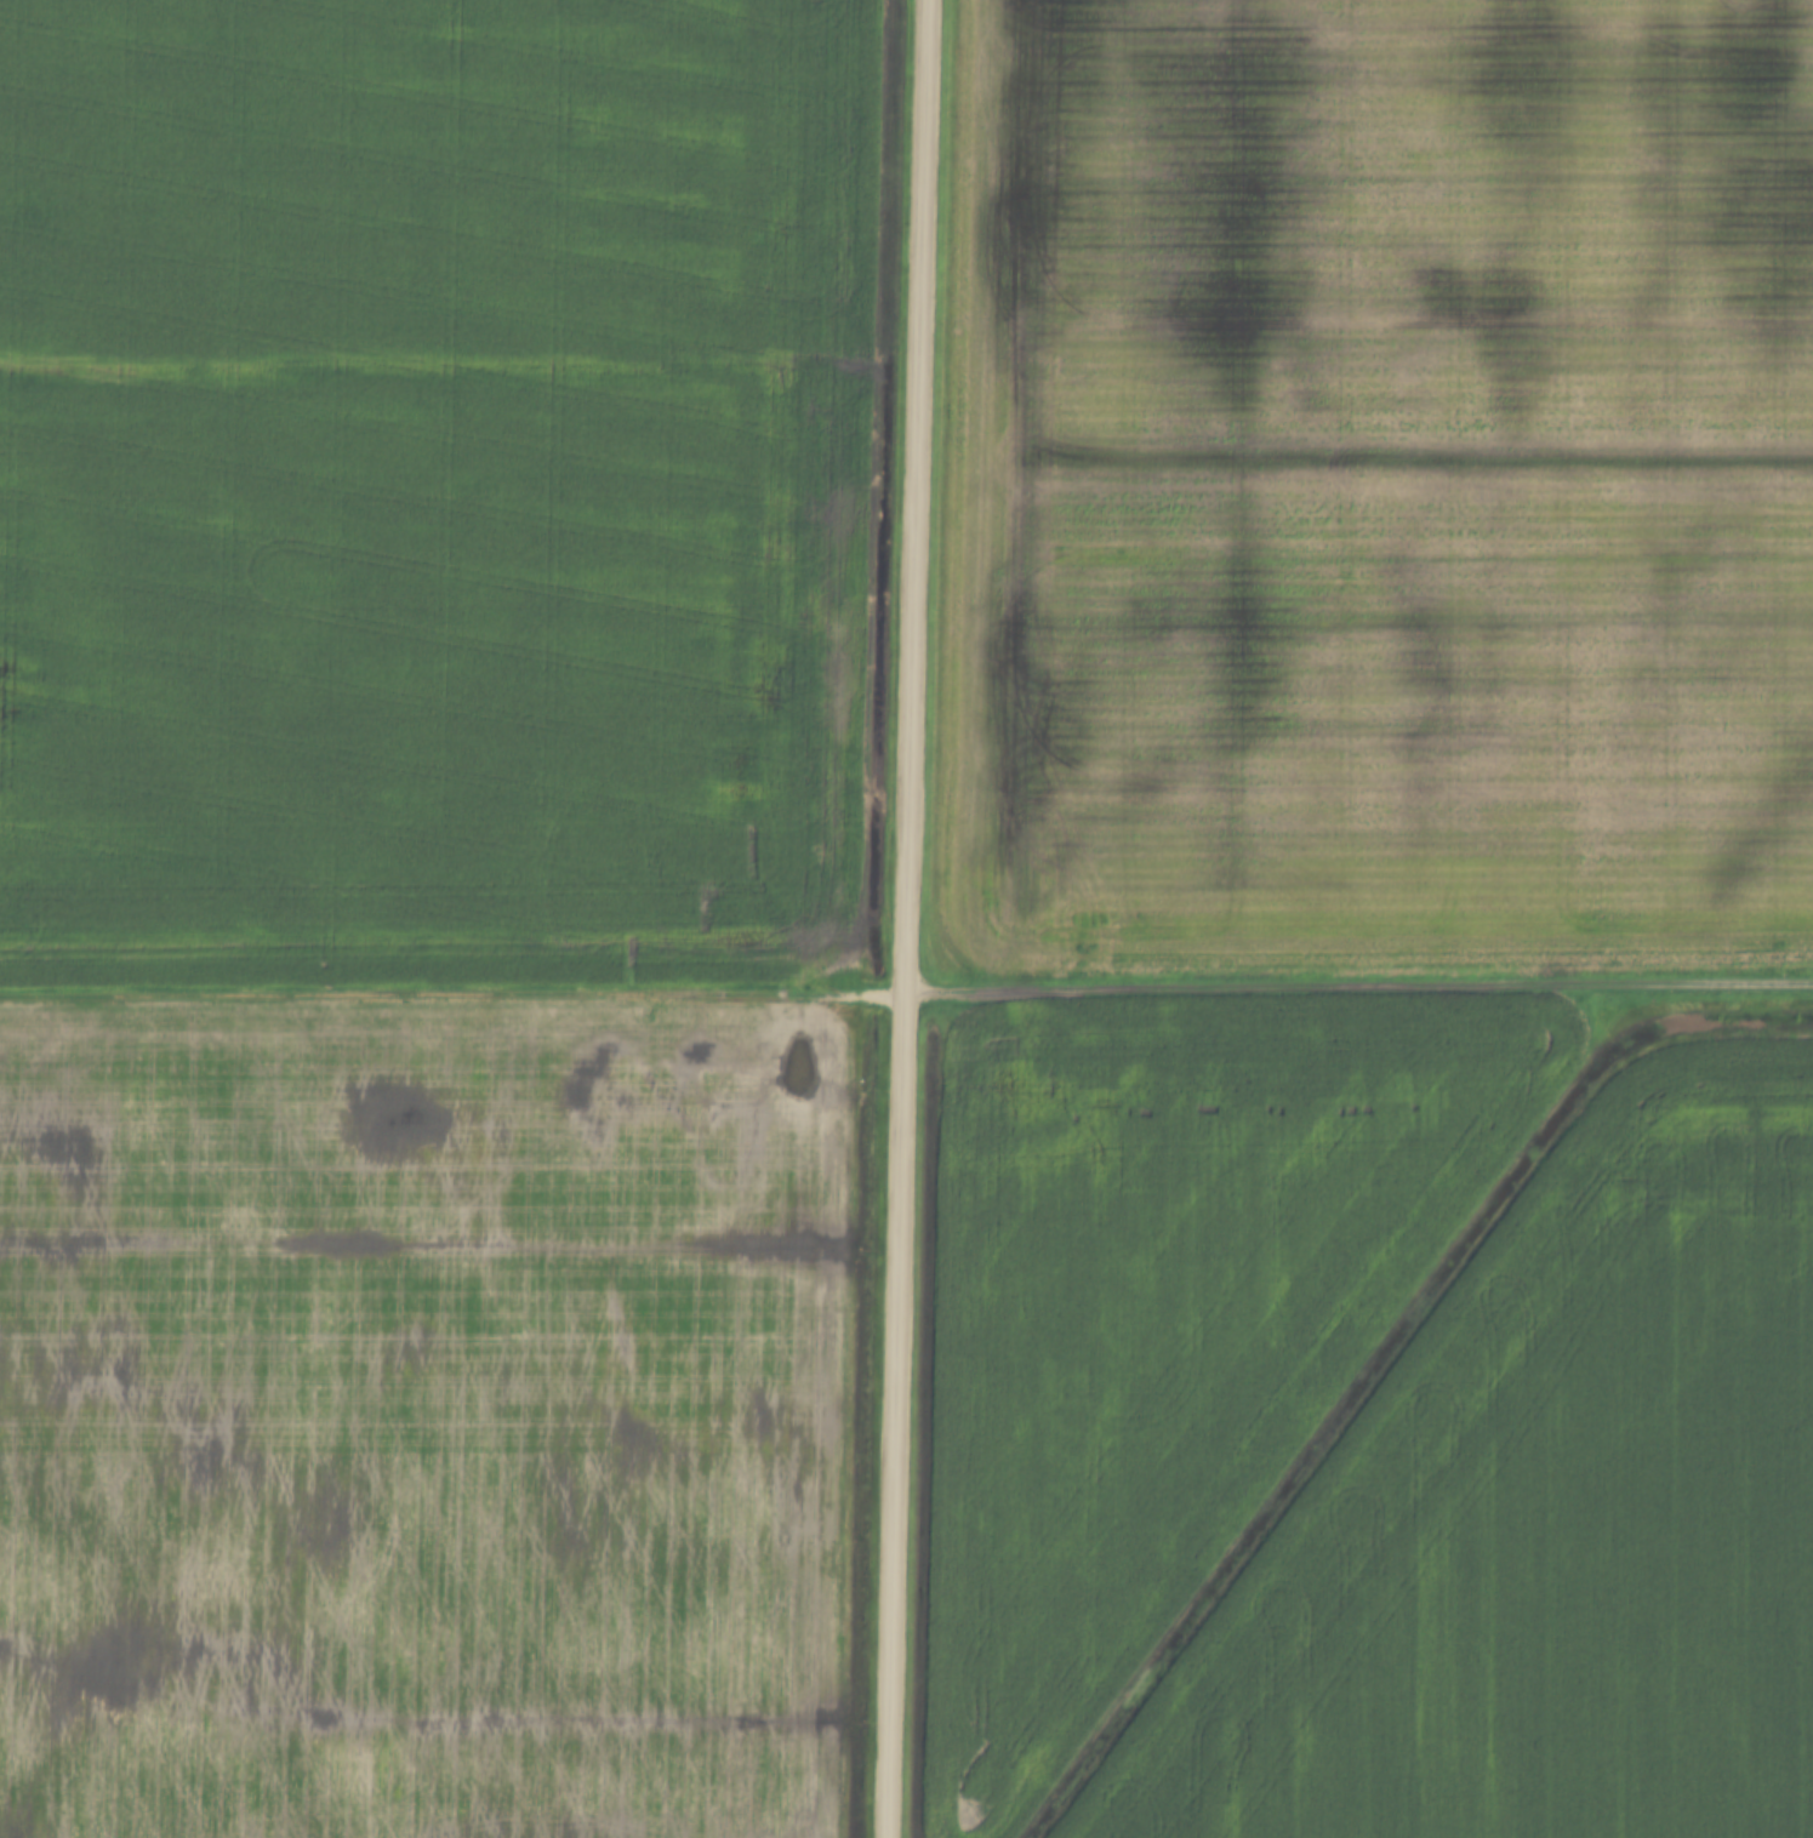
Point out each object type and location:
crop: (1378, 487)
crop: (434, 493)
road: (903, 918)
road: (1357, 991)
road: (451, 1001)
crop: (1161, 1317)
crop: (427, 1421)
crop: (1543, 1525)

